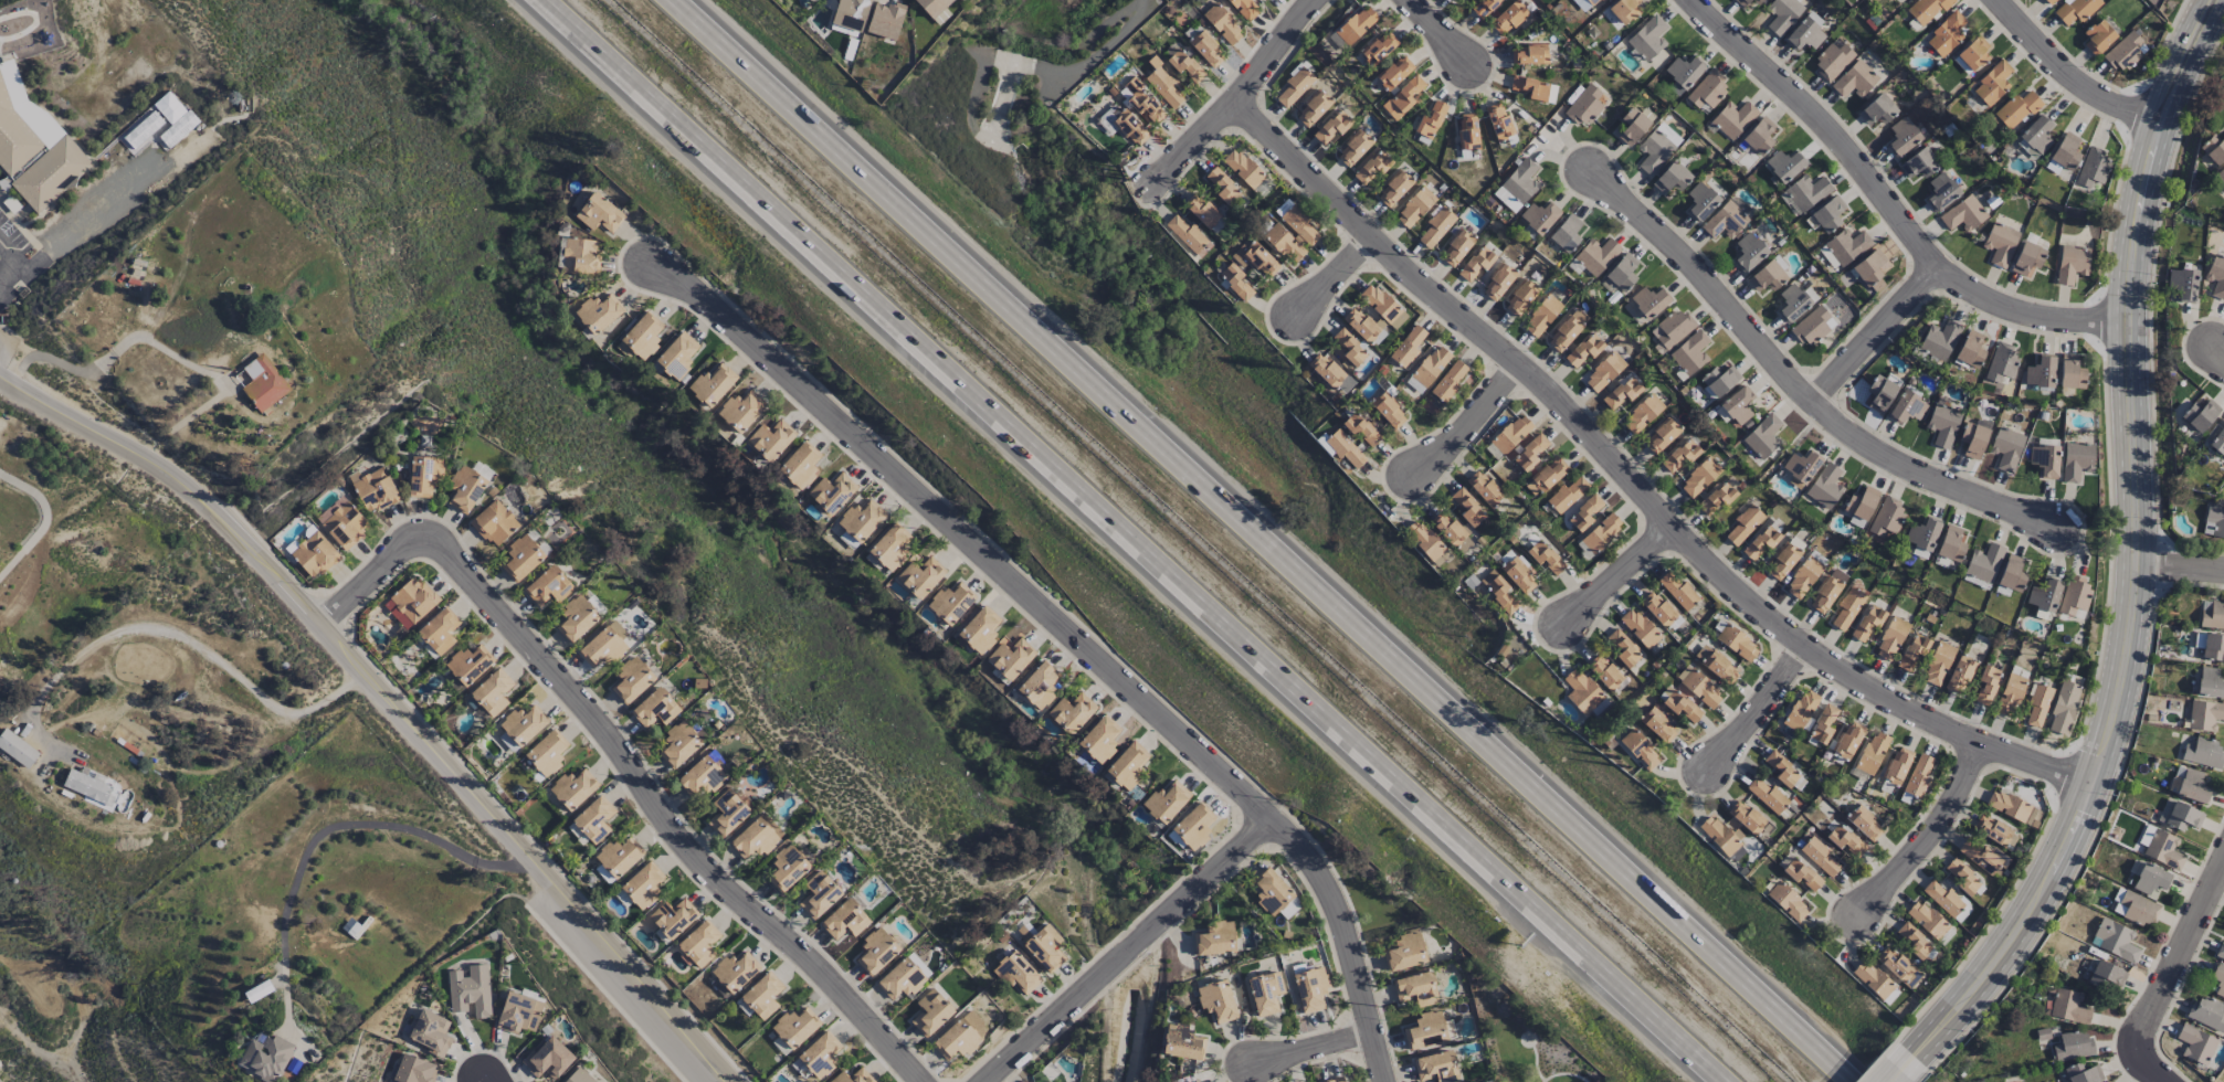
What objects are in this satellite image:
building: (1455, 0)
building: (1798, 0)
building: (1757, 1)
building: (2048, 1)
building: (1742, 2)
building: (932, 7)
building: (1245, 8)
building: (1484, 8)
building: (1624, 9)
building: (1927, 9)
building: (2075, 10)
building: (851, 13)
building: (1782, 14)
building: (1508, 18)
building: (885, 20)
building: (1222, 24)
building: (1353, 26)
road: (1442, 32)
building: (1805, 33)
building: (1946, 33)
building: (2098, 35)
building: (1647, 38)
road: (1125, 39)
road: (1088, 44)
building: (1205, 47)
building: (1379, 47)
building: (2126, 52)
building: (1971, 54)
building: (1529, 55)
building: (1832, 62)
building: (1184, 65)
building: (1394, 72)
building: (1683, 73)
road: (2070, 75)
building: (1855, 79)
building: (1993, 83)
building: (1295, 85)
building: (1163, 86)
building: (1535, 88)
building: (1708, 89)
road: (1237, 95)
building: (1404, 97)
building: (1142, 100)
building: (1585, 105)
building: (1313, 108)
building: (1877, 109)
building: (2017, 109)
building: (1733, 118)
building: (1431, 120)
building: (1498, 120)
building: (1126, 124)
building: (159, 125)
building: (1635, 125)
building: (1334, 126)
building: (1467, 130)
building: (2037, 134)
building: (1759, 135)
building: (1902, 137)
building: (1420, 138)
building: (34, 146)
building: (1353, 148)
building: (1657, 148)
building: (2213, 149)
building: (2066, 151)
building: (1919, 162)
building: (1784, 166)
building: (2094, 167)
building: (1243, 168)
building: (1371, 168)
building: (2221, 174)
building: (1672, 178)
building: (1223, 187)
building: (1517, 187)
building: (1262, 188)
building: (1394, 189)
building: (1940, 191)
building: (1805, 192)
building: (1700, 201)
road: (1893, 204)
building: (1283, 206)
building: (1415, 206)
building: (1201, 210)
building: (599, 213)
building: (1828, 214)
building: (1963, 214)
building: (1539, 216)
building: (1726, 221)
road: (80, 224)
building: (1299, 224)
building: (1436, 226)
building: (1185, 233)
building: (1566, 234)
building: (2000, 243)
building: (1284, 244)
building: (1457, 247)
building: (1844, 247)
building: (1749, 252)
road: (11, 254)
building: (580, 256)
building: (1596, 256)
building: (1258, 258)
building: (2027, 259)
building: (2072, 263)
building: (1476, 265)
building: (1869, 270)
building: (1621, 273)
road: (1332, 275)
building: (2216, 276)
road: (1, 277)
building: (1767, 277)
building: (1235, 280)
building: (1498, 282)
building: (2183, 284)
building: (1520, 297)
building: (1649, 301)
building: (1380, 303)
building: (1792, 303)
building: (598, 312)
building: (1541, 316)
building: (1360, 325)
building: (1813, 326)
building: (1673, 328)
building: (1567, 331)
road: (1876, 333)
building: (642, 336)
building: (1939, 339)
building: (1409, 346)
road: (117, 347)
building: (1348, 347)
building: (1584, 349)
building: (1970, 349)
road: (2220, 351)
building: (1690, 352)
building: (676, 357)
building: (2001, 362)
building: (1429, 369)
building: (1326, 370)
building: (1604, 372)
building: (2041, 372)
building: (2072, 373)
road: (1, 378)
building: (1720, 380)
building: (1450, 381)
building: (264, 383)
building: (713, 384)
road: (1799, 384)
building: (1621, 393)
building: (1880, 393)
building: (1738, 405)
building: (1907, 407)
building: (741, 411)
building: (1388, 411)
building: (1642, 414)
building: (2200, 414)
road: (1469, 422)
building: (1943, 424)
building: (1361, 429)
building: (1661, 436)
building: (1763, 436)
building: (771, 439)
building: (1973, 439)
building: (2217, 441)
building: (1520, 443)
building: (1345, 448)
building: (2006, 448)
building: (1680, 456)
building: (2045, 460)
building: (2076, 460)
building: (800, 465)
building: (1801, 468)
building: (424, 475)
building: (1547, 477)
building: (1699, 477)
road: (176, 480)
road: (1635, 482)
building: (1825, 486)
building: (1484, 487)
building: (465, 488)
building: (375, 489)
building: (831, 494)
building: (1567, 495)
building: (1716, 499)
building: (1859, 506)
building: (1467, 507)
building: (1584, 512)
building: (1886, 516)
road: (45, 519)
building: (861, 520)
building: (342, 522)
building: (2214, 522)
building: (494, 523)
building: (1745, 523)
building: (1448, 529)
building: (1601, 532)
building: (1922, 534)
building: (1424, 539)
road: (1127, 541)
road: (1269, 541)
building: (1760, 543)
building: (1951, 544)
building: (890, 547)
road: (2139, 549)
building: (315, 554)
building: (521, 558)
building: (1546, 558)
building: (1782, 561)
road: (2181, 563)
building: (1983, 565)
road: (1620, 572)
building: (1519, 575)
building: (2011, 575)
building: (920, 576)
building: (1803, 577)
building: (549, 586)
building: (1498, 591)
building: (1678, 591)
building: (1827, 591)
building: (2044, 595)
building: (2074, 595)
building: (410, 602)
building: (951, 603)
building: (1657, 608)
building: (1847, 609)
building: (2213, 616)
building: (576, 618)
building: (1867, 623)
building: (1640, 627)
building: (980, 629)
building: (439, 630)
road: (1074, 632)
road: (175, 634)
building: (1890, 638)
road: (345, 643)
building: (1737, 643)
building: (604, 645)
building: (2211, 646)
building: (1624, 648)
building: (1011, 657)
building: (1716, 664)
building: (1938, 664)
building: (468, 665)
building: (1604, 671)
building: (1960, 675)
building: (632, 679)
building: (2210, 682)
building: (1986, 683)
building: (1039, 686)
building: (1698, 687)
building: (1581, 691)
building: (493, 692)
building: (2010, 694)
building: (1679, 704)
road: (1761, 706)
building: (2038, 706)
building: (655, 708)
building: (2064, 708)
building: (1801, 710)
building: (1072, 713)
building: (2204, 714)
building: (524, 724)
building: (1658, 724)
building: (1823, 724)
building: (1848, 739)
building: (1099, 740)
building: (508, 742)
building: (679, 743)
building: (17, 749)
building: (1640, 749)
building: (1873, 752)
building: (547, 753)
building: (2203, 753)
road: (630, 762)
building: (1128, 765)
building: (1897, 765)
building: (1782, 770)
building: (702, 776)
building: (1918, 776)
building: (2192, 786)
building: (89, 787)
building: (572, 788)
building: (1768, 795)
building: (1167, 800)
building: (2009, 805)
building: (727, 814)
building: (1746, 817)
building: (2182, 817)
building: (594, 818)
building: (1864, 823)
building: (1194, 826)
road: (331, 828)
building: (1994, 831)
road: (1928, 834)
building: (1718, 835)
building: (757, 837)
building: (1845, 840)
building: (2163, 849)
building: (619, 856)
building: (1820, 856)
building: (1983, 857)
building: (787, 868)
road: (546, 873)
building: (1802, 873)
building: (604, 874)
building: (1962, 876)
building: (2150, 879)
building: (643, 884)
building: (1271, 891)
building: (819, 894)
building: (1943, 898)
building: (1788, 901)
building: (2133, 908)
building: (673, 917)
building: (1927, 919)
building: (845, 920)
road: (2194, 927)
building: (1215, 938)
building: (1914, 941)
building: (2115, 941)
building: (699, 943)
building: (1045, 947)
road: (1128, 948)
building: (876, 951)
building: (2220, 951)
building: (1405, 952)
building: (1894, 963)
building: (735, 970)
building: (1018, 973)
building: (2107, 976)
building: (902, 979)
building: (2218, 979)
building: (1875, 982)
building: (1310, 988)
building: (1416, 989)
building: (470, 990)
building: (1266, 993)
building: (761, 996)
building: (1216, 1000)
building: (2069, 1007)
building: (519, 1012)
building: (930, 1012)
building: (2206, 1012)
building: (795, 1027)
building: (1425, 1030)
building: (431, 1032)
building: (960, 1036)
park: (1524, 1036)
road: (2141, 1038)
road: (1521, 1040)
building: (1182, 1042)
building: (2195, 1043)
building: (780, 1046)
building: (2072, 1046)
road: (1311, 1047)
building: (820, 1054)
building: (266, 1057)
building: (548, 1059)
road: (1536, 1062)
building: (1436, 1067)
building: (800, 1068)
road: (1907, 1068)
building: (414, 1070)
road: (1564, 1073)
building: (2083, 1073)
building: (579, 1076)
building: (853, 1076)
road: (488, 1079)
building: (1335, 1080)

